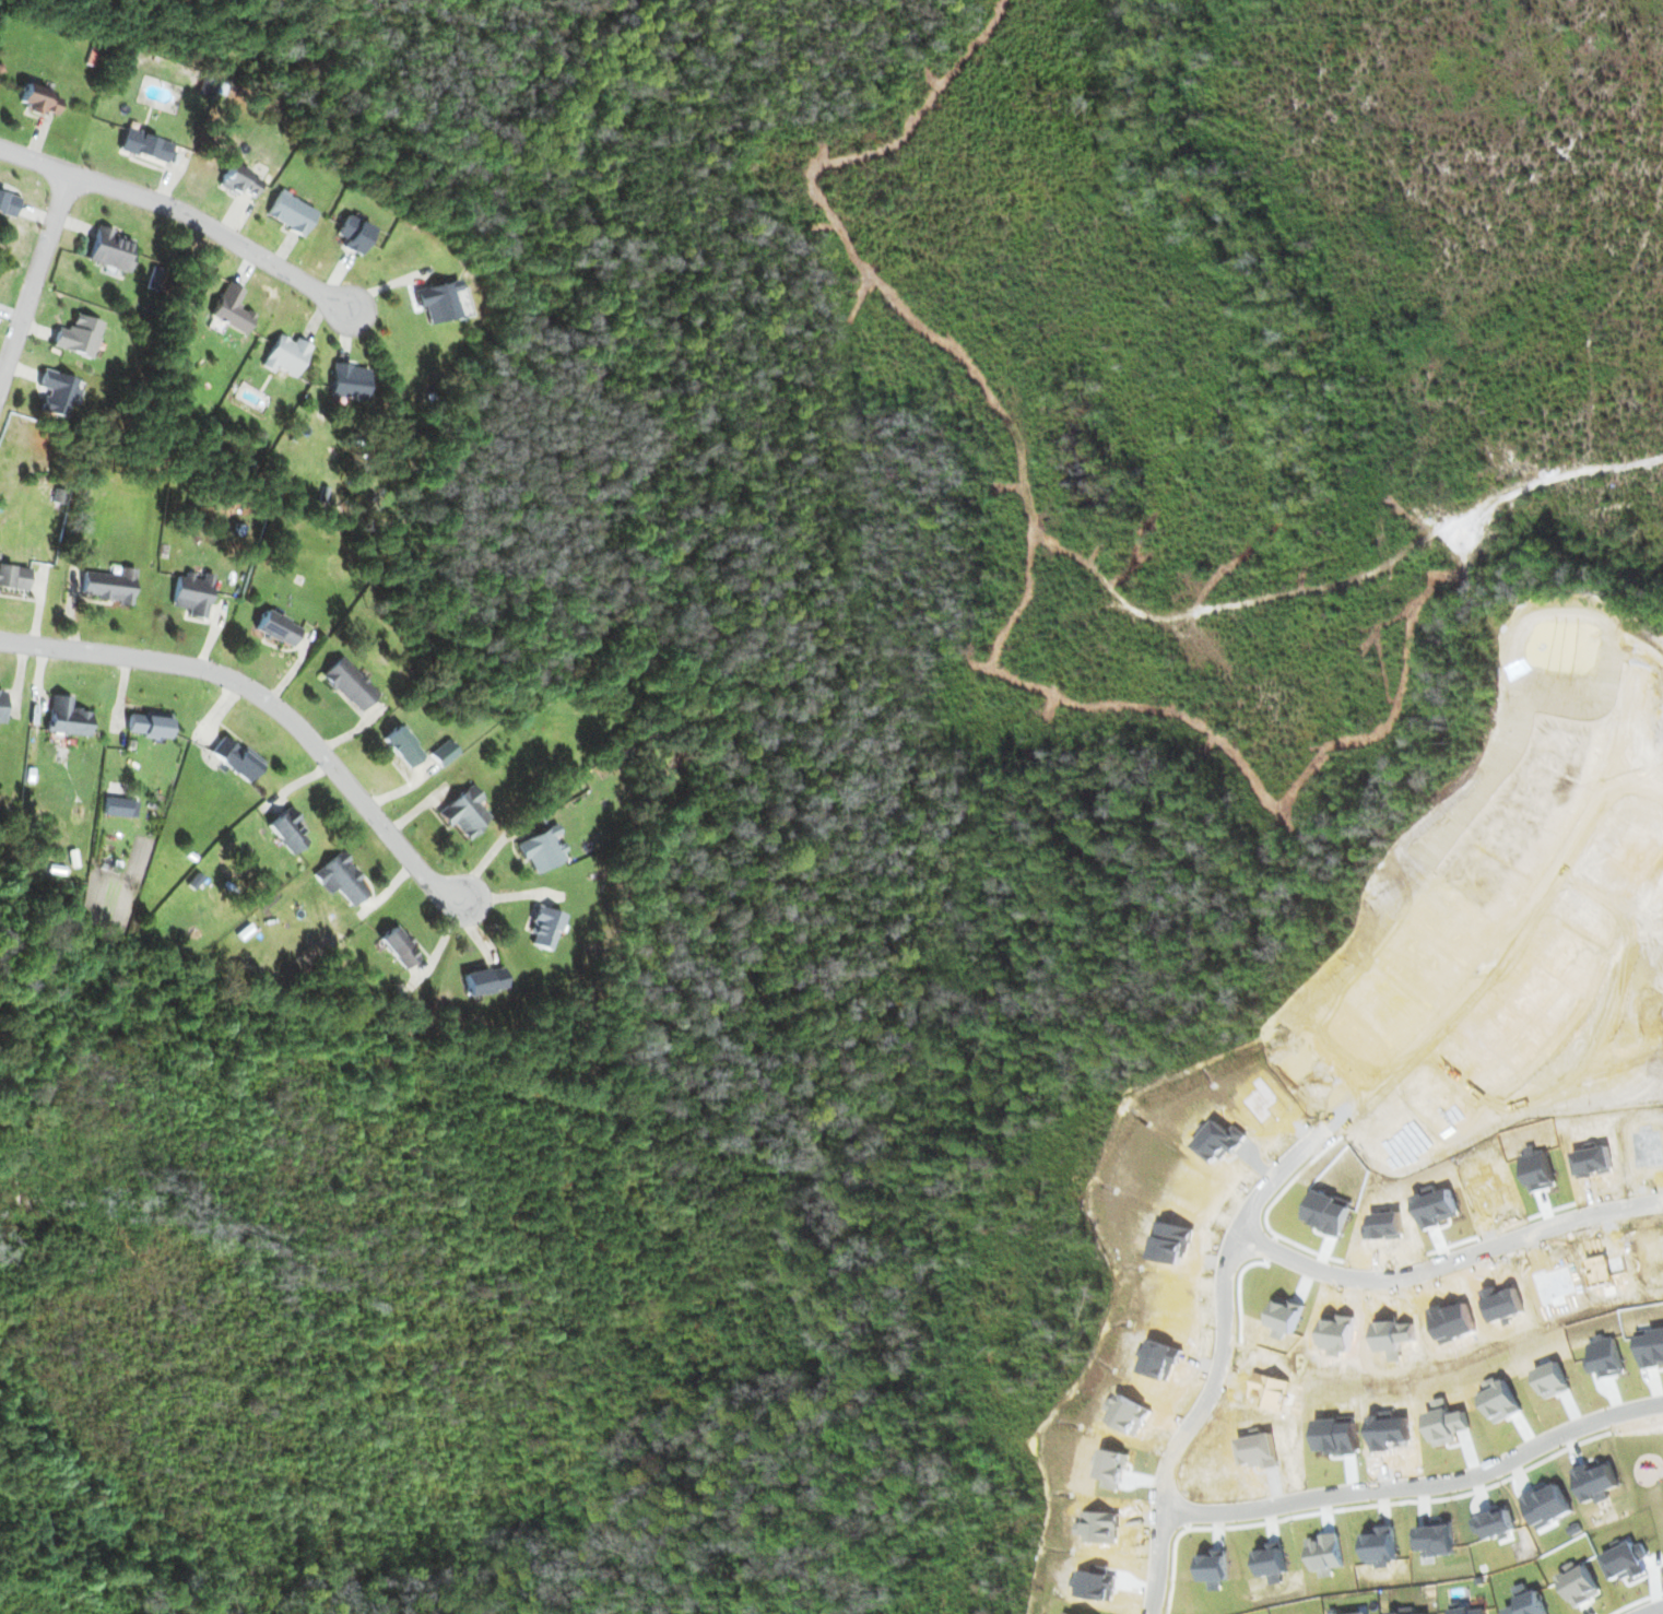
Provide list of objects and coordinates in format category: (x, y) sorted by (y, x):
building: (36, 101)
building: (146, 145)
building: (233, 180)
building: (9, 201)
road: (184, 213)
building: (288, 213)
building: (351, 234)
building: (111, 248)
road: (35, 282)
building: (439, 301)
building: (231, 308)
building: (79, 335)
building: (286, 355)
building: (350, 380)
building: (59, 392)
building: (12, 578)
building: (105, 587)
building: (189, 594)
building: (274, 628)
building: (349, 683)
building: (1, 700)
road: (269, 702)
building: (66, 717)
building: (144, 724)
building: (401, 746)
building: (447, 756)
building: (235, 759)
road: (1640, 785)
building: (465, 813)
building: (286, 832)
building: (542, 850)
building: (340, 879)
building: (544, 926)
building: (398, 946)
building: (482, 980)
road: (1332, 1124)
road: (1450, 1262)
road: (1420, 1485)
road: (1655, 1611)

